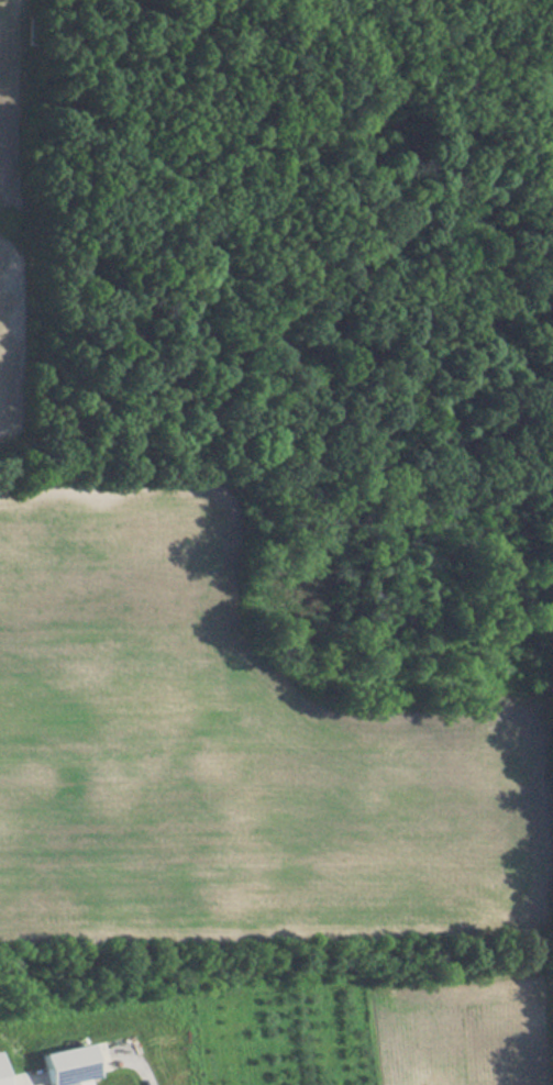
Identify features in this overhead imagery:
building: (62, 1066)
road: (143, 1075)

